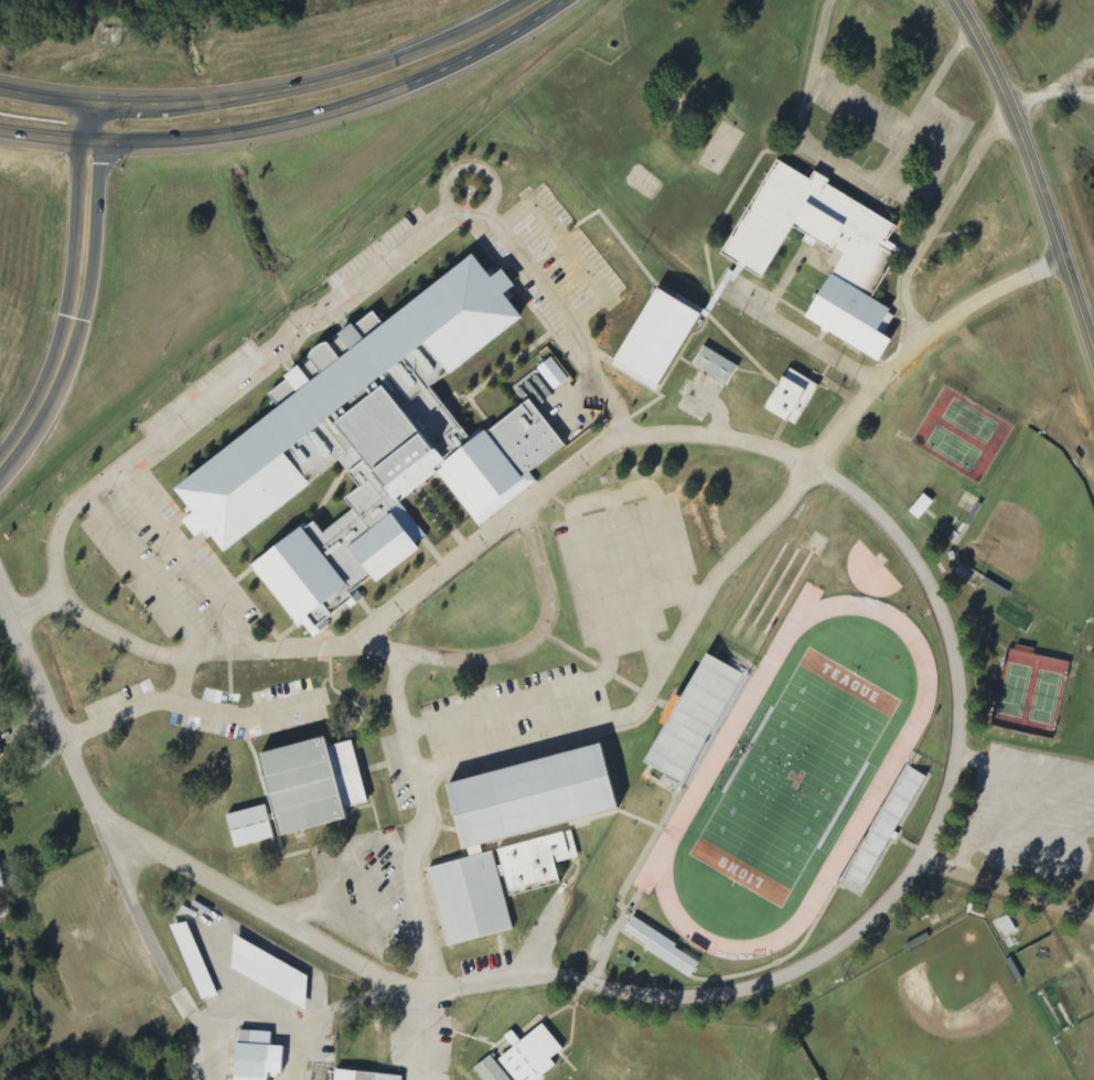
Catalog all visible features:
road: (506, 11)
road: (294, 90)
road: (45, 97)
road: (335, 115)
road: (44, 142)
road: (1038, 172)
building: (861, 267)
road: (348, 291)
road: (75, 295)
building: (655, 336)
building: (715, 365)
building: (553, 374)
building: (791, 397)
building: (372, 445)
road: (3, 460)
building: (921, 507)
road: (752, 571)
building: (690, 721)
building: (1, 755)
stadium: (793, 773)
building: (311, 785)
building: (249, 827)
building: (541, 846)
building: (1, 879)
road: (1008, 885)
building: (1007, 927)
road: (856, 929)
building: (662, 948)
building: (194, 962)
building: (269, 973)
building: (530, 1055)
building: (257, 1057)
building: (491, 1070)
building: (362, 1077)

